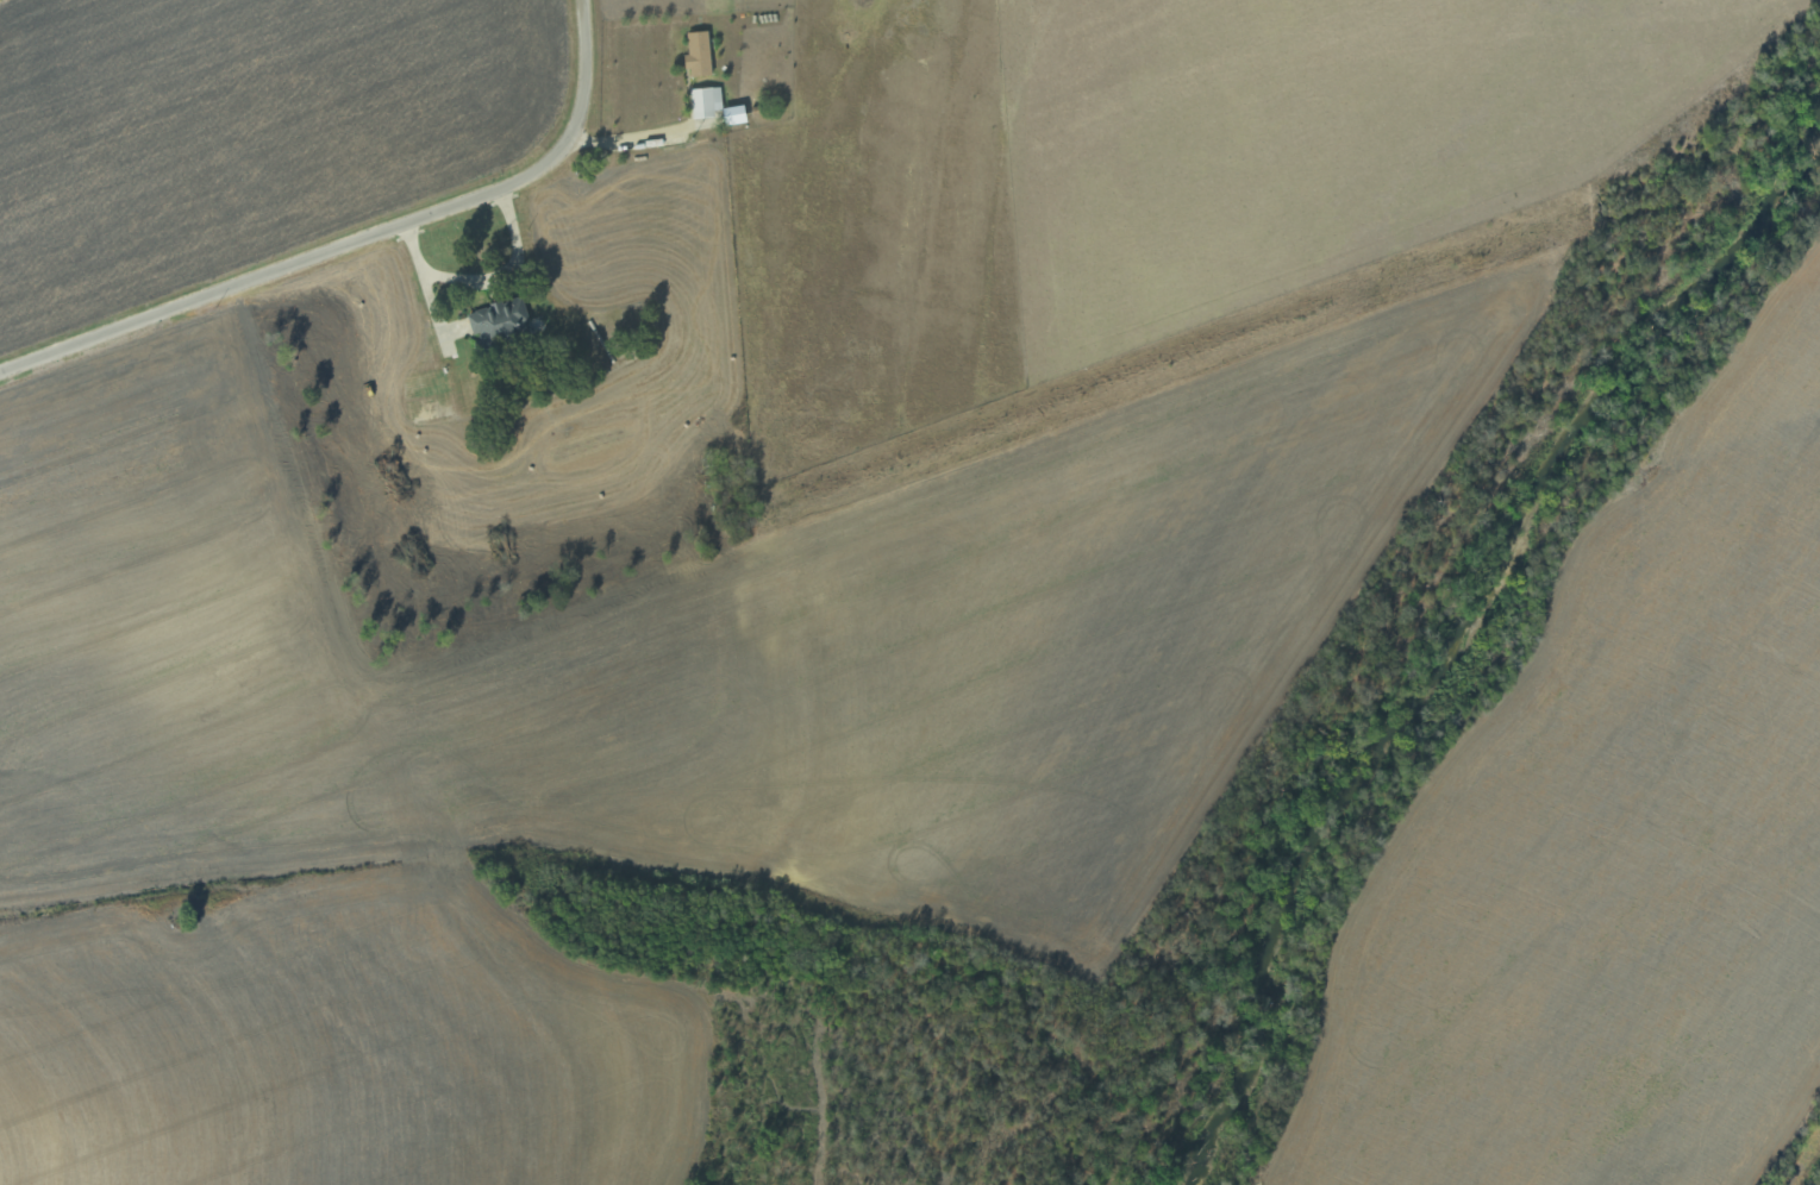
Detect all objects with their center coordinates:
building: (699, 54)
building: (706, 102)
road: (358, 240)

